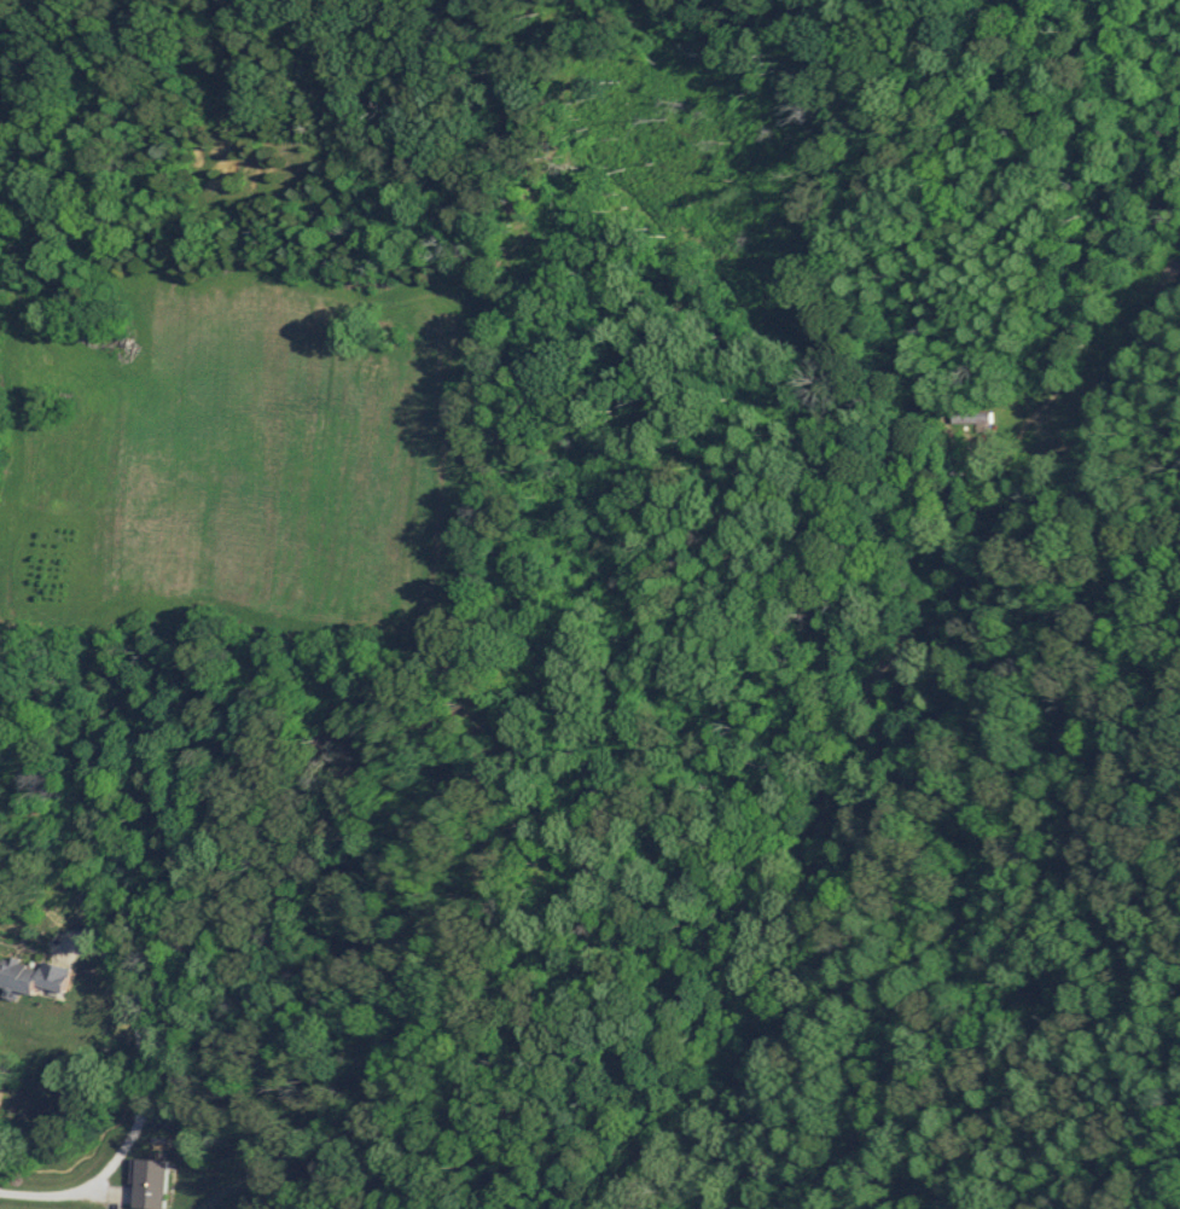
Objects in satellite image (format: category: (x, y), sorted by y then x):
building: (976, 417)
road: (656, 845)
building: (27, 976)
building: (145, 1184)

